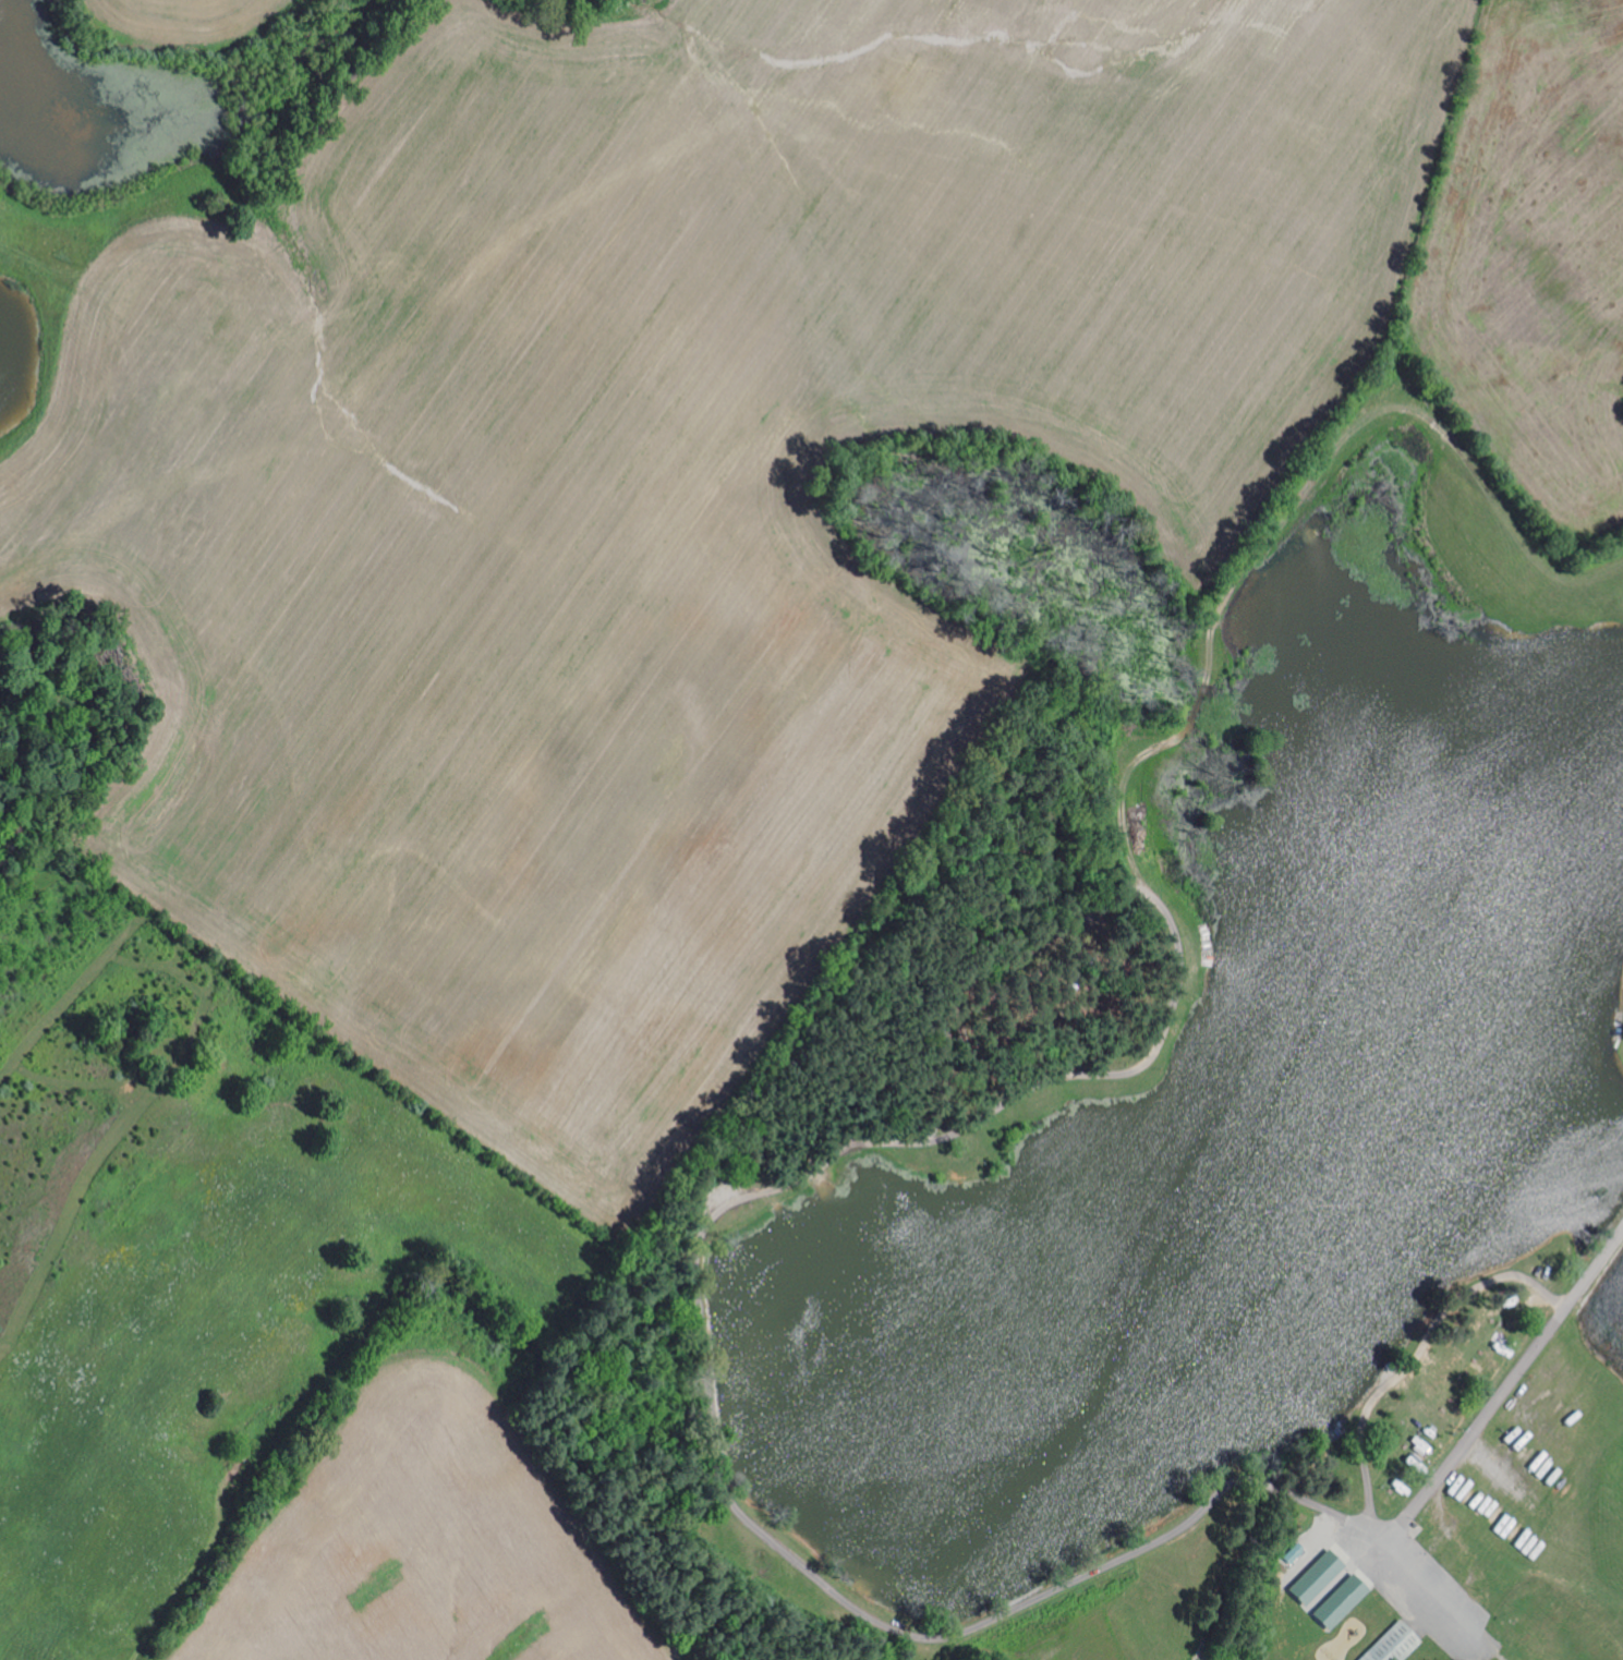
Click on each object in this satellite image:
road: (761, 1188)
road: (1412, 1367)
road: (1517, 1377)
dam: (740, 1489)
building: (1289, 1553)
building: (1311, 1577)
building: (1335, 1601)
building: (1389, 1644)

